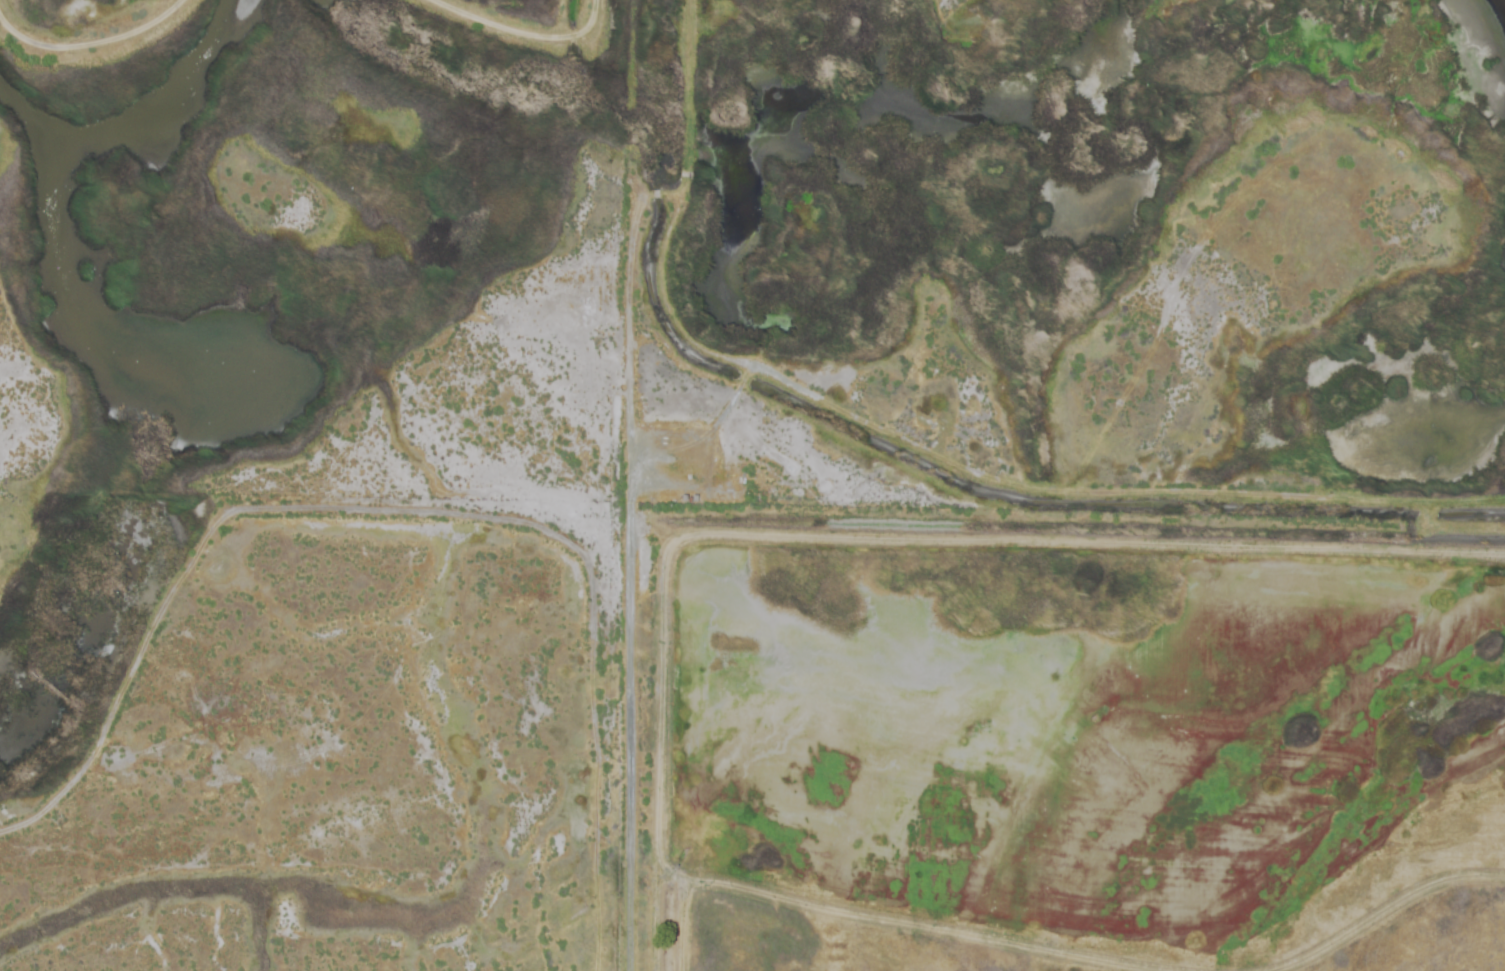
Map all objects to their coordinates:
road: (638, 777)

